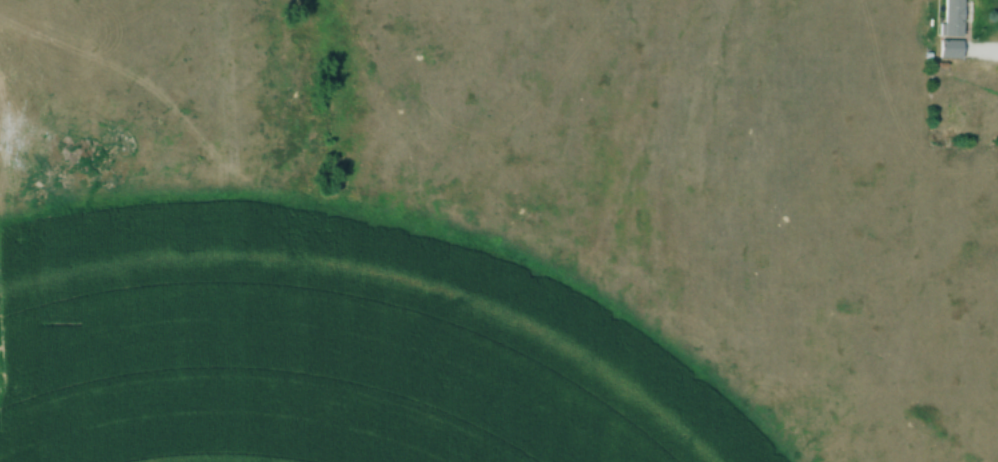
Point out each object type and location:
building: (951, 18)
building: (949, 49)

